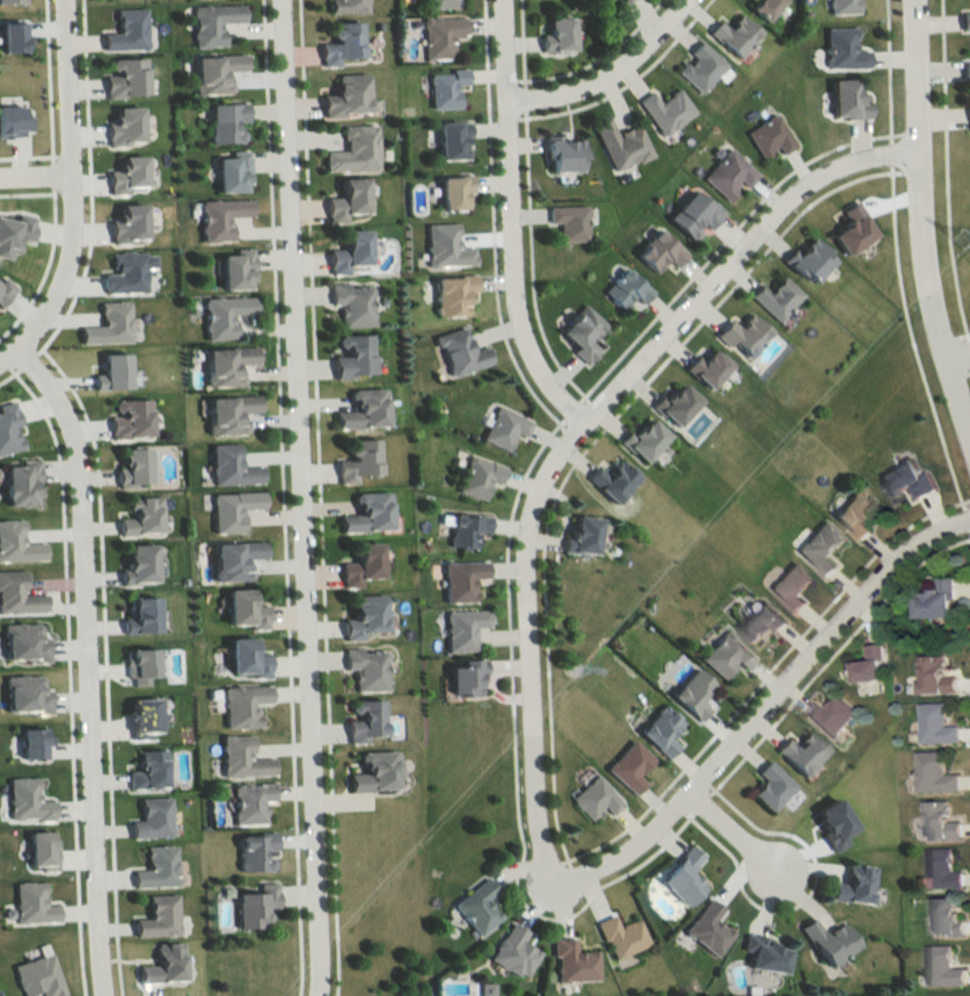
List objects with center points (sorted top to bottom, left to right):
building: (11, 1)
building: (624, 1)
building: (439, 4)
building: (346, 6)
building: (840, 6)
building: (762, 8)
building: (964, 20)
building: (212, 23)
building: (126, 30)
building: (557, 34)
building: (439, 36)
building: (732, 36)
building: (12, 37)
building: (341, 42)
road: (519, 44)
building: (841, 49)
road: (595, 58)
building: (700, 67)
building: (964, 69)
road: (885, 71)
building: (214, 73)
road: (605, 73)
building: (125, 77)
road: (47, 81)
road: (624, 83)
building: (444, 87)
building: (346, 96)
road: (522, 99)
building: (846, 101)
building: (664, 111)
road: (66, 115)
building: (968, 116)
building: (12, 122)
building: (224, 122)
building: (123, 127)
building: (768, 136)
building: (451, 140)
building: (620, 144)
building: (352, 150)
building: (562, 153)
road: (889, 153)
road: (27, 155)
building: (231, 169)
road: (944, 172)
road: (34, 173)
road: (50, 174)
building: (126, 174)
building: (727, 174)
road: (87, 183)
building: (453, 192)
road: (25, 193)
building: (345, 200)
building: (219, 215)
building: (692, 215)
building: (568, 222)
building: (127, 224)
road: (509, 224)
road: (490, 225)
building: (852, 225)
building: (14, 233)
road: (918, 235)
power tower: (964, 238)
road: (721, 240)
building: (444, 246)
building: (657, 252)
building: (346, 253)
building: (807, 256)
road: (528, 263)
road: (44, 266)
building: (235, 266)
building: (127, 271)
building: (625, 289)
building: (5, 290)
building: (451, 295)
building: (774, 295)
building: (351, 302)
road: (49, 303)
building: (222, 313)
building: (108, 323)
building: (742, 331)
building: (581, 332)
road: (961, 334)
road: (910, 340)
road: (969, 345)
building: (459, 350)
building: (351, 353)
road: (956, 357)
road: (27, 360)
building: (225, 363)
building: (705, 364)
building: (111, 369)
road: (967, 372)
road: (9, 373)
road: (622, 383)
building: (674, 401)
building: (362, 407)
road: (570, 410)
building: (227, 412)
building: (129, 417)
building: (503, 426)
building: (9, 427)
building: (642, 437)
road: (584, 447)
building: (357, 458)
building: (132, 465)
building: (229, 465)
building: (478, 474)
building: (906, 477)
building: (613, 479)
building: (20, 480)
road: (298, 497)
road: (280, 498)
road: (316, 498)
building: (232, 508)
building: (366, 511)
building: (855, 511)
building: (140, 514)
road: (966, 521)
building: (465, 528)
building: (581, 532)
road: (969, 535)
building: (16, 541)
building: (820, 546)
building: (232, 557)
building: (137, 561)
building: (359, 562)
building: (459, 578)
building: (790, 584)
building: (17, 592)
building: (935, 598)
building: (243, 607)
building: (139, 612)
building: (362, 614)
building: (762, 620)
building: (461, 627)
building: (23, 640)
building: (725, 652)
building: (245, 656)
road: (831, 657)
building: (138, 662)
building: (871, 662)
road: (84, 663)
road: (103, 665)
building: (364, 667)
power tower: (574, 668)
road: (67, 673)
building: (464, 674)
building: (935, 675)
road: (762, 678)
building: (691, 691)
building: (25, 693)
building: (241, 703)
building: (141, 714)
building: (831, 714)
building: (363, 718)
building: (936, 723)
building: (659, 728)
building: (31, 740)
building: (800, 751)
building: (240, 756)
road: (512, 762)
building: (627, 765)
road: (707, 767)
building: (146, 769)
building: (372, 770)
building: (935, 772)
building: (769, 784)
building: (592, 796)
building: (25, 799)
building: (248, 801)
road: (698, 802)
building: (150, 817)
road: (742, 818)
building: (938, 818)
road: (720, 824)
road: (801, 843)
building: (39, 848)
building: (253, 849)
road: (794, 861)
building: (155, 866)
building: (942, 868)
building: (681, 874)
building: (852, 882)
road: (743, 896)
building: (30, 902)
building: (252, 903)
building: (475, 906)
building: (947, 914)
building: (156, 915)
building: (705, 927)
building: (617, 934)
building: (827, 940)
building: (511, 950)
building: (761, 951)
building: (571, 960)
building: (161, 962)
building: (942, 965)
building: (35, 975)
building: (0, 995)

